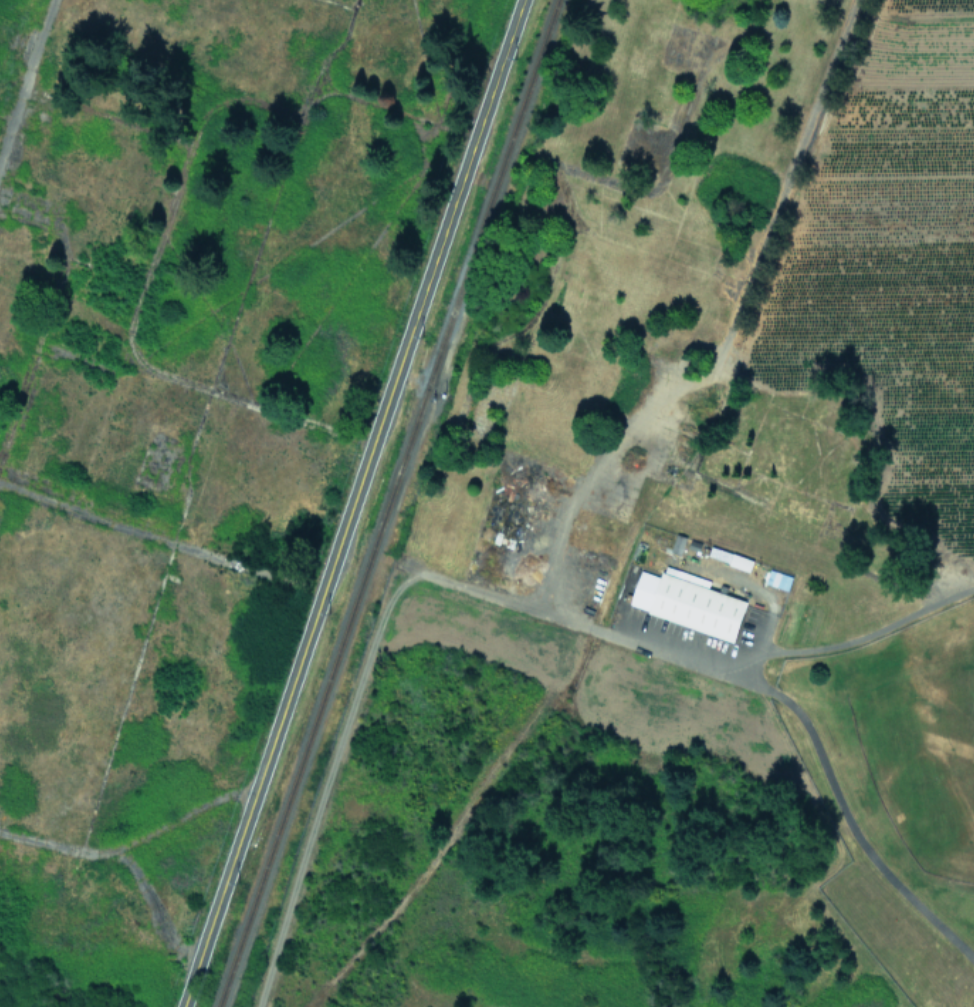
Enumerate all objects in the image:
road: (351, 503)
railway: (389, 503)
building: (677, 543)
building: (777, 579)
building: (688, 604)
parking lot: (691, 633)
road: (855, 638)
road: (676, 655)
road: (355, 691)
park: (919, 750)
road: (851, 827)

